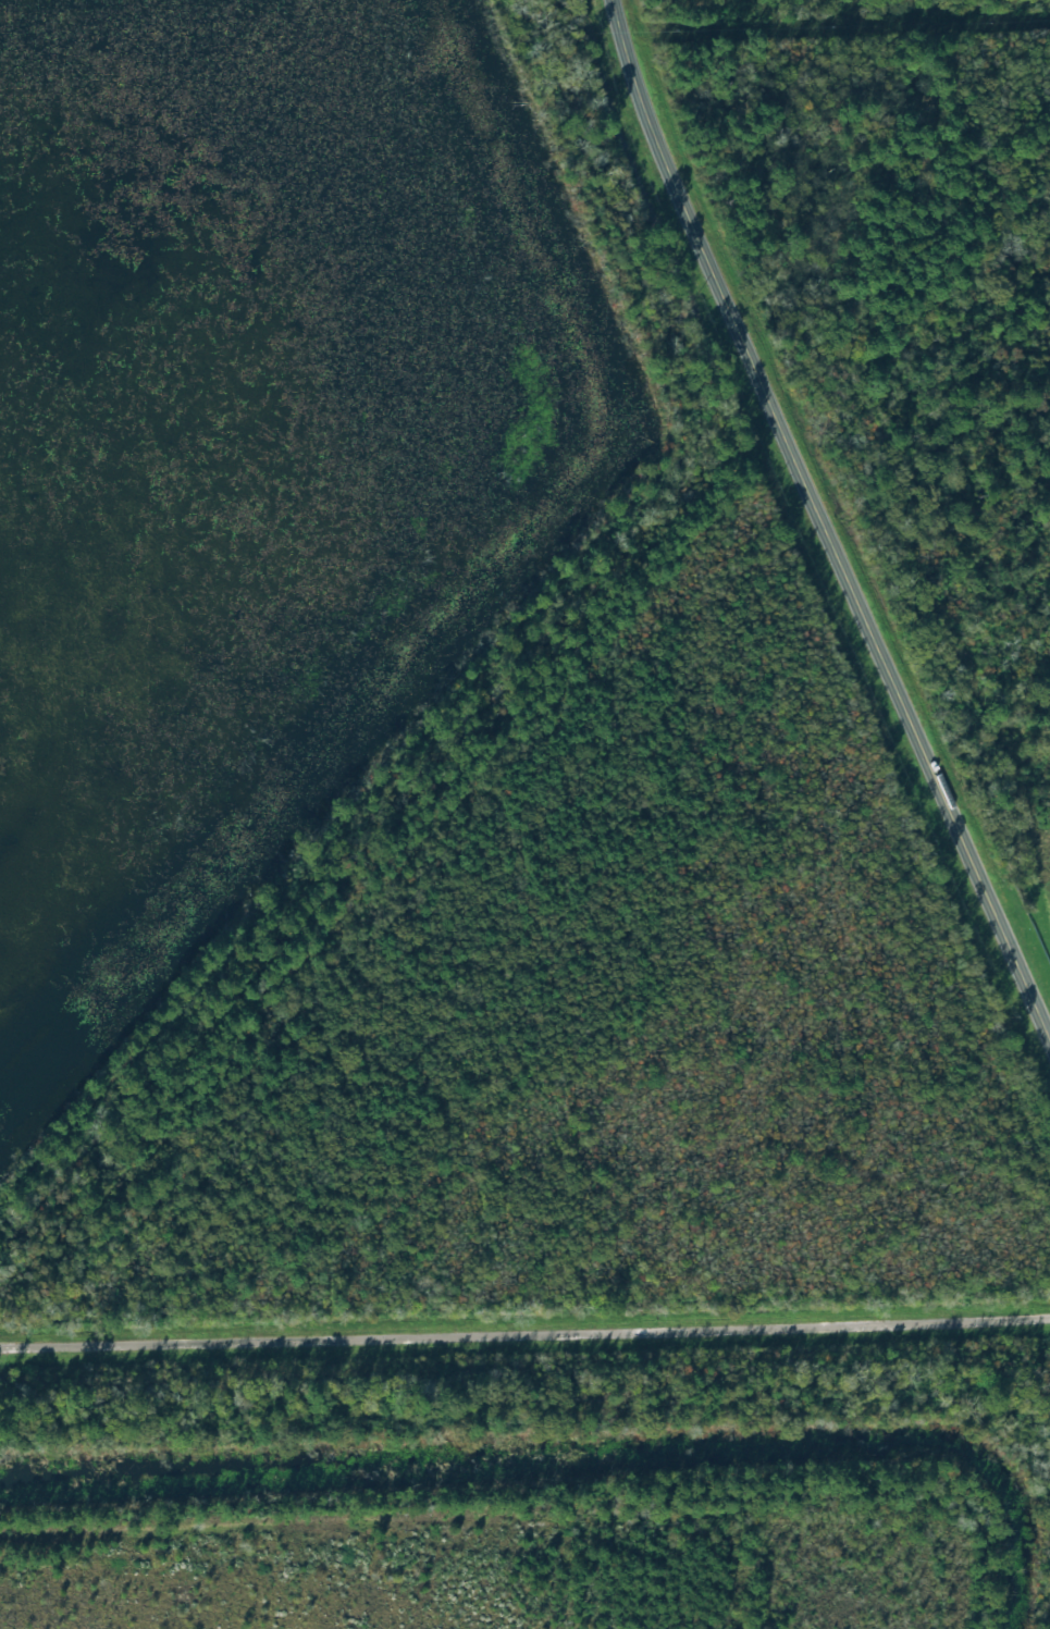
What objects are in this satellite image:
road: (824, 525)
road: (524, 1335)

